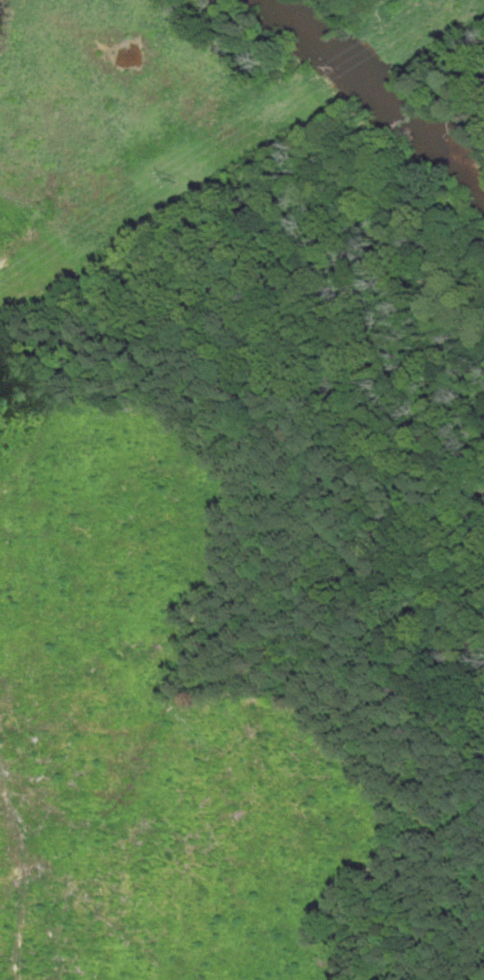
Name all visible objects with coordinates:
river: (374, 85)

